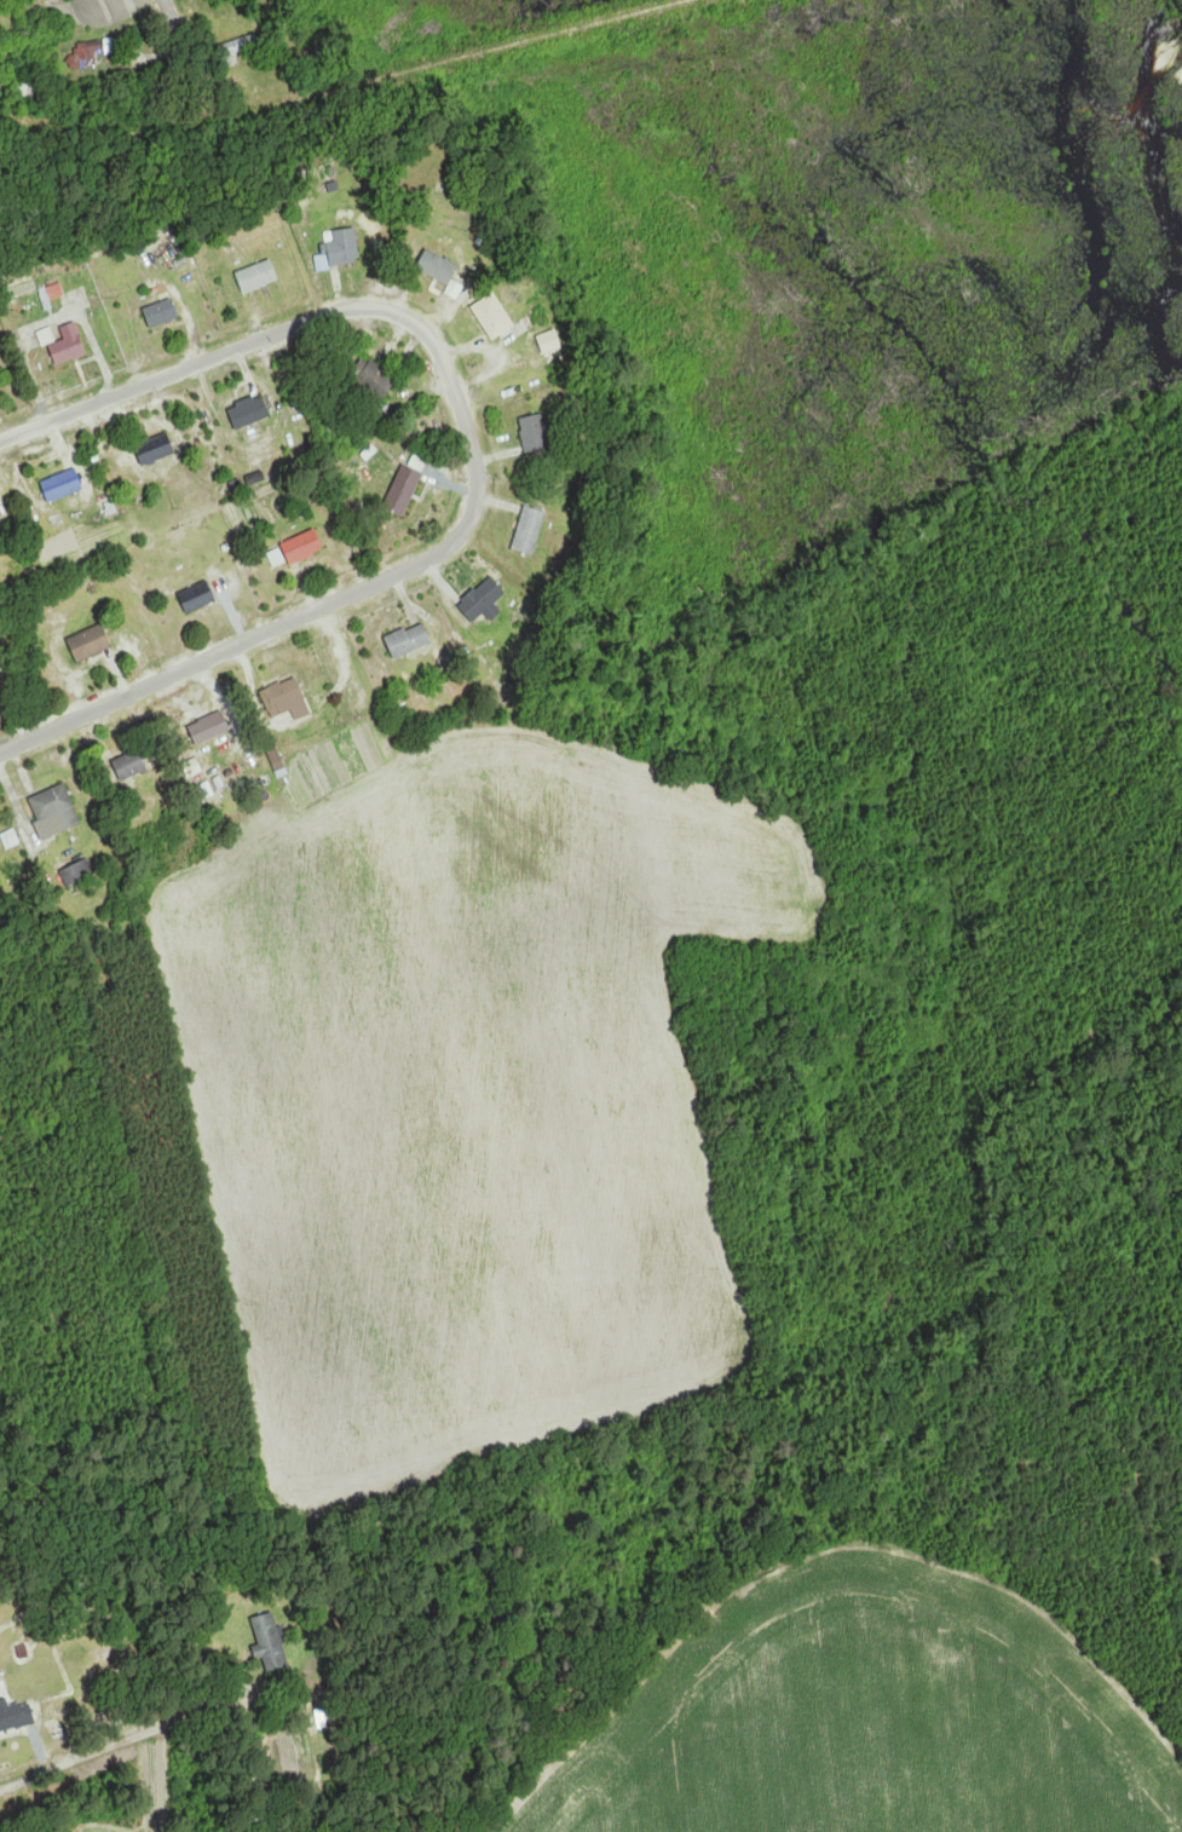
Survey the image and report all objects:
road: (172, 17)
building: (236, 50)
building: (90, 56)
building: (29, 85)
railway: (344, 86)
building: (345, 247)
building: (442, 270)
building: (258, 276)
building: (162, 312)
building: (495, 316)
building: (69, 345)
building: (375, 379)
building: (249, 411)
building: (537, 433)
building: (156, 448)
road: (477, 456)
building: (63, 485)
building: (404, 490)
building: (0, 520)
building: (530, 530)
building: (304, 547)
building: (198, 597)
building: (479, 601)
building: (409, 640)
building: (90, 643)
building: (1, 693)
building: (288, 699)
building: (211, 727)
building: (131, 765)
building: (56, 811)
building: (77, 874)
building: (270, 1643)
building: (17, 1717)
road: (122, 1736)

